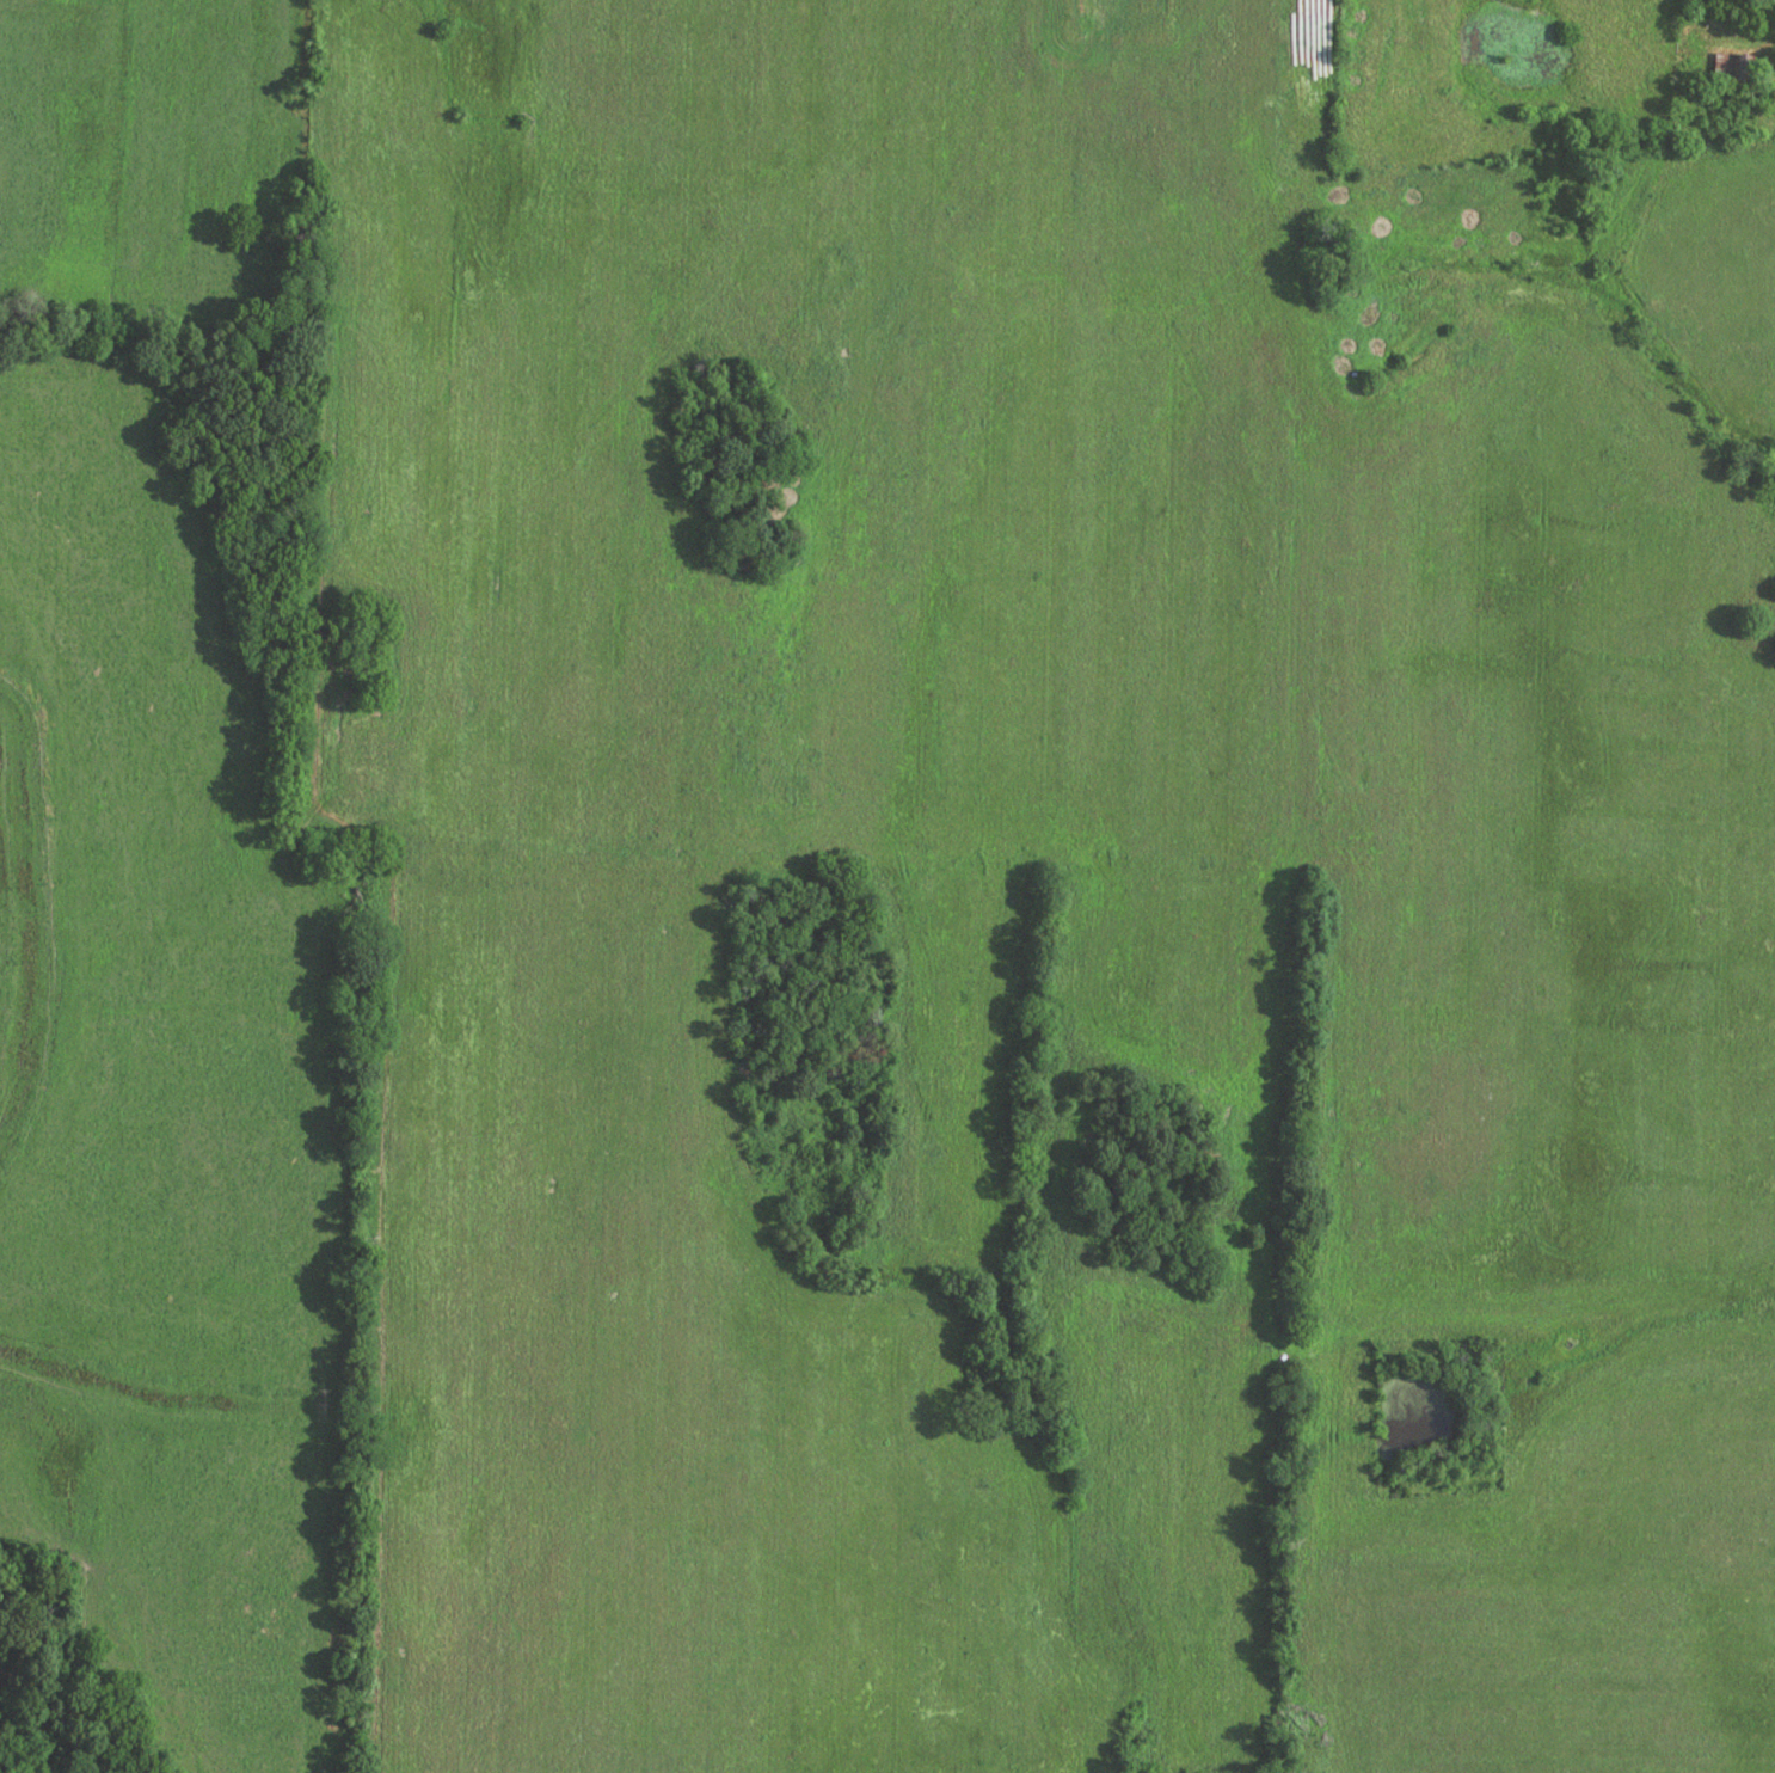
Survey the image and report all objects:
building: (1732, 67)

